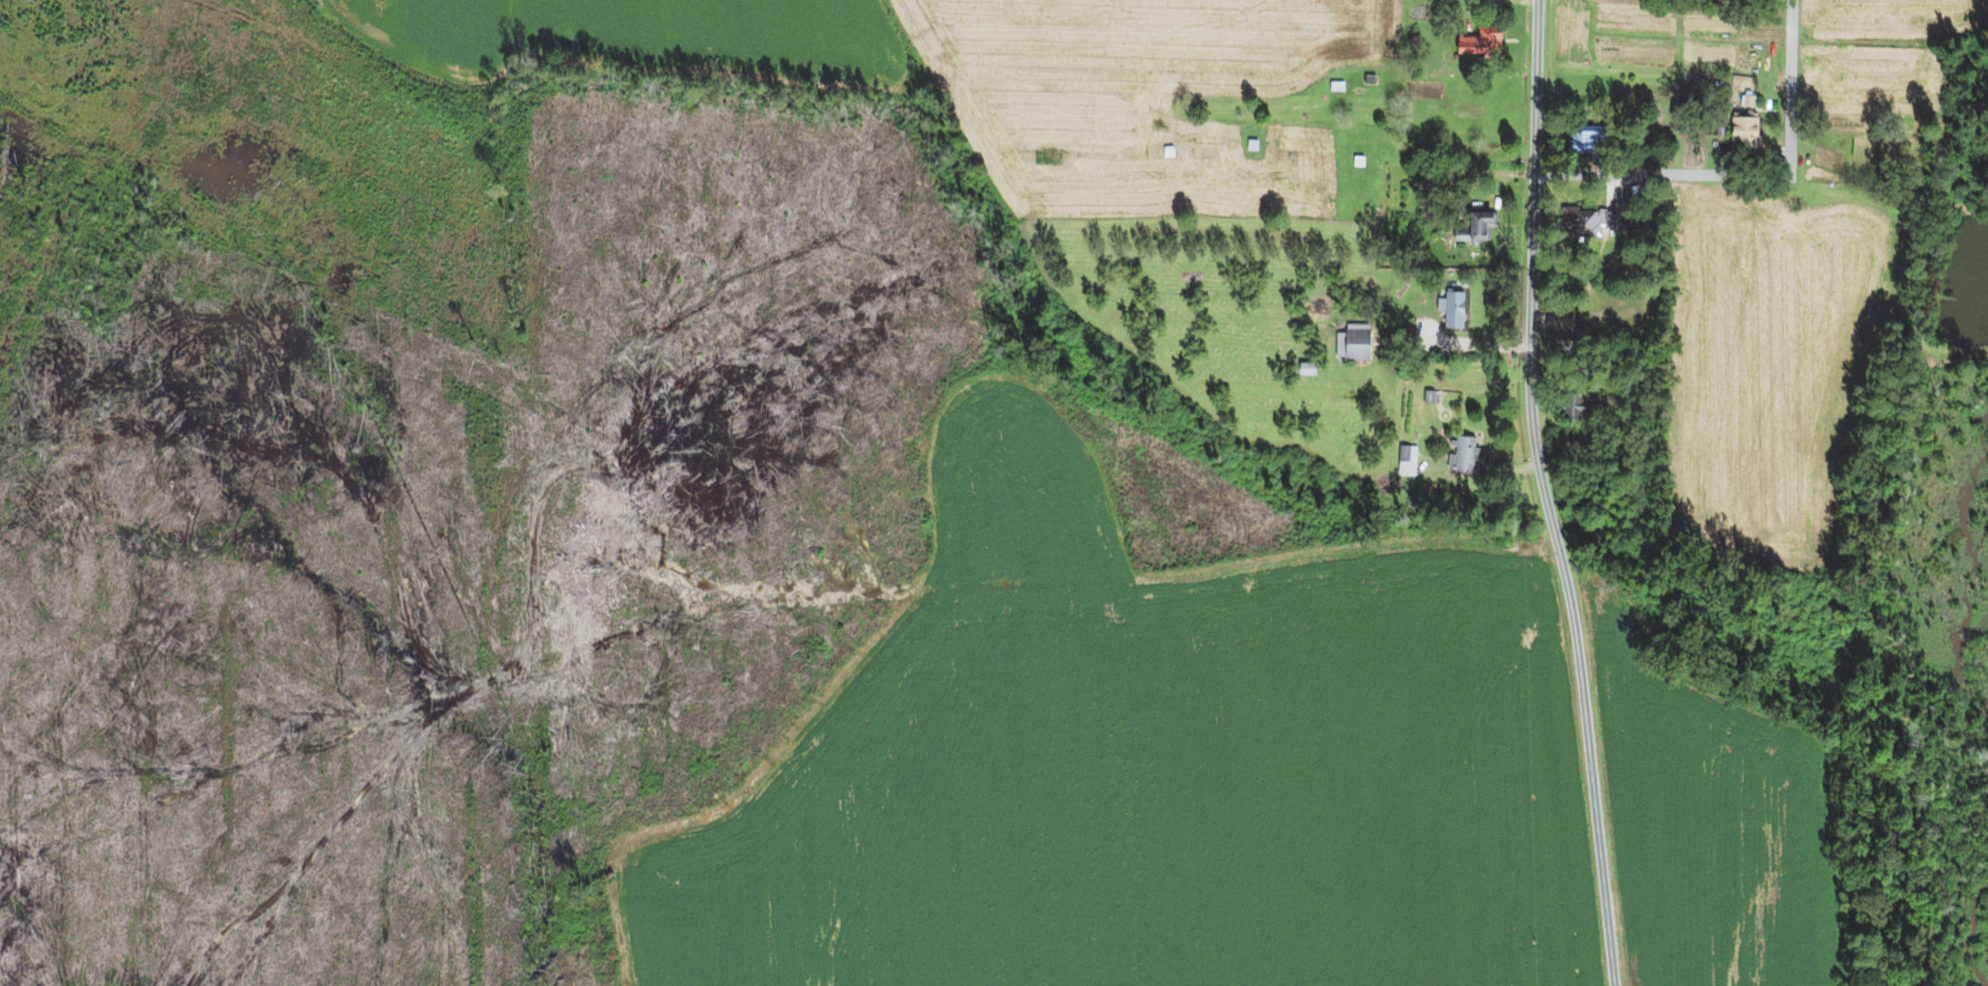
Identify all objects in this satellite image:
road: (1485, 0)
building: (1435, 14)
crop: (1894, 19)
crop: (631, 36)
building: (1415, 40)
building: (1484, 46)
building: (1370, 77)
building: (1720, 82)
building: (1338, 84)
road: (1536, 86)
road: (1789, 86)
crop: (1143, 98)
building: (1721, 124)
building: (1749, 125)
building: (1665, 138)
building: (1591, 139)
building: (1253, 142)
building: (1170, 148)
building: (1360, 158)
road: (1493, 168)
road: (1661, 173)
building: (1429, 184)
building: (1462, 184)
road: (1618, 191)
building: (1593, 216)
building: (1478, 223)
building: (1577, 292)
building: (1454, 305)
road: (1580, 324)
building: (1356, 339)
road: (1453, 344)
crop: (1779, 357)
road: (1561, 377)
building: (1431, 395)
building: (1584, 404)
road: (1421, 426)
building: (1465, 451)
building: (1409, 458)
building: (1655, 481)
road: (1566, 579)
crop: (1155, 766)
crop: (1715, 824)

